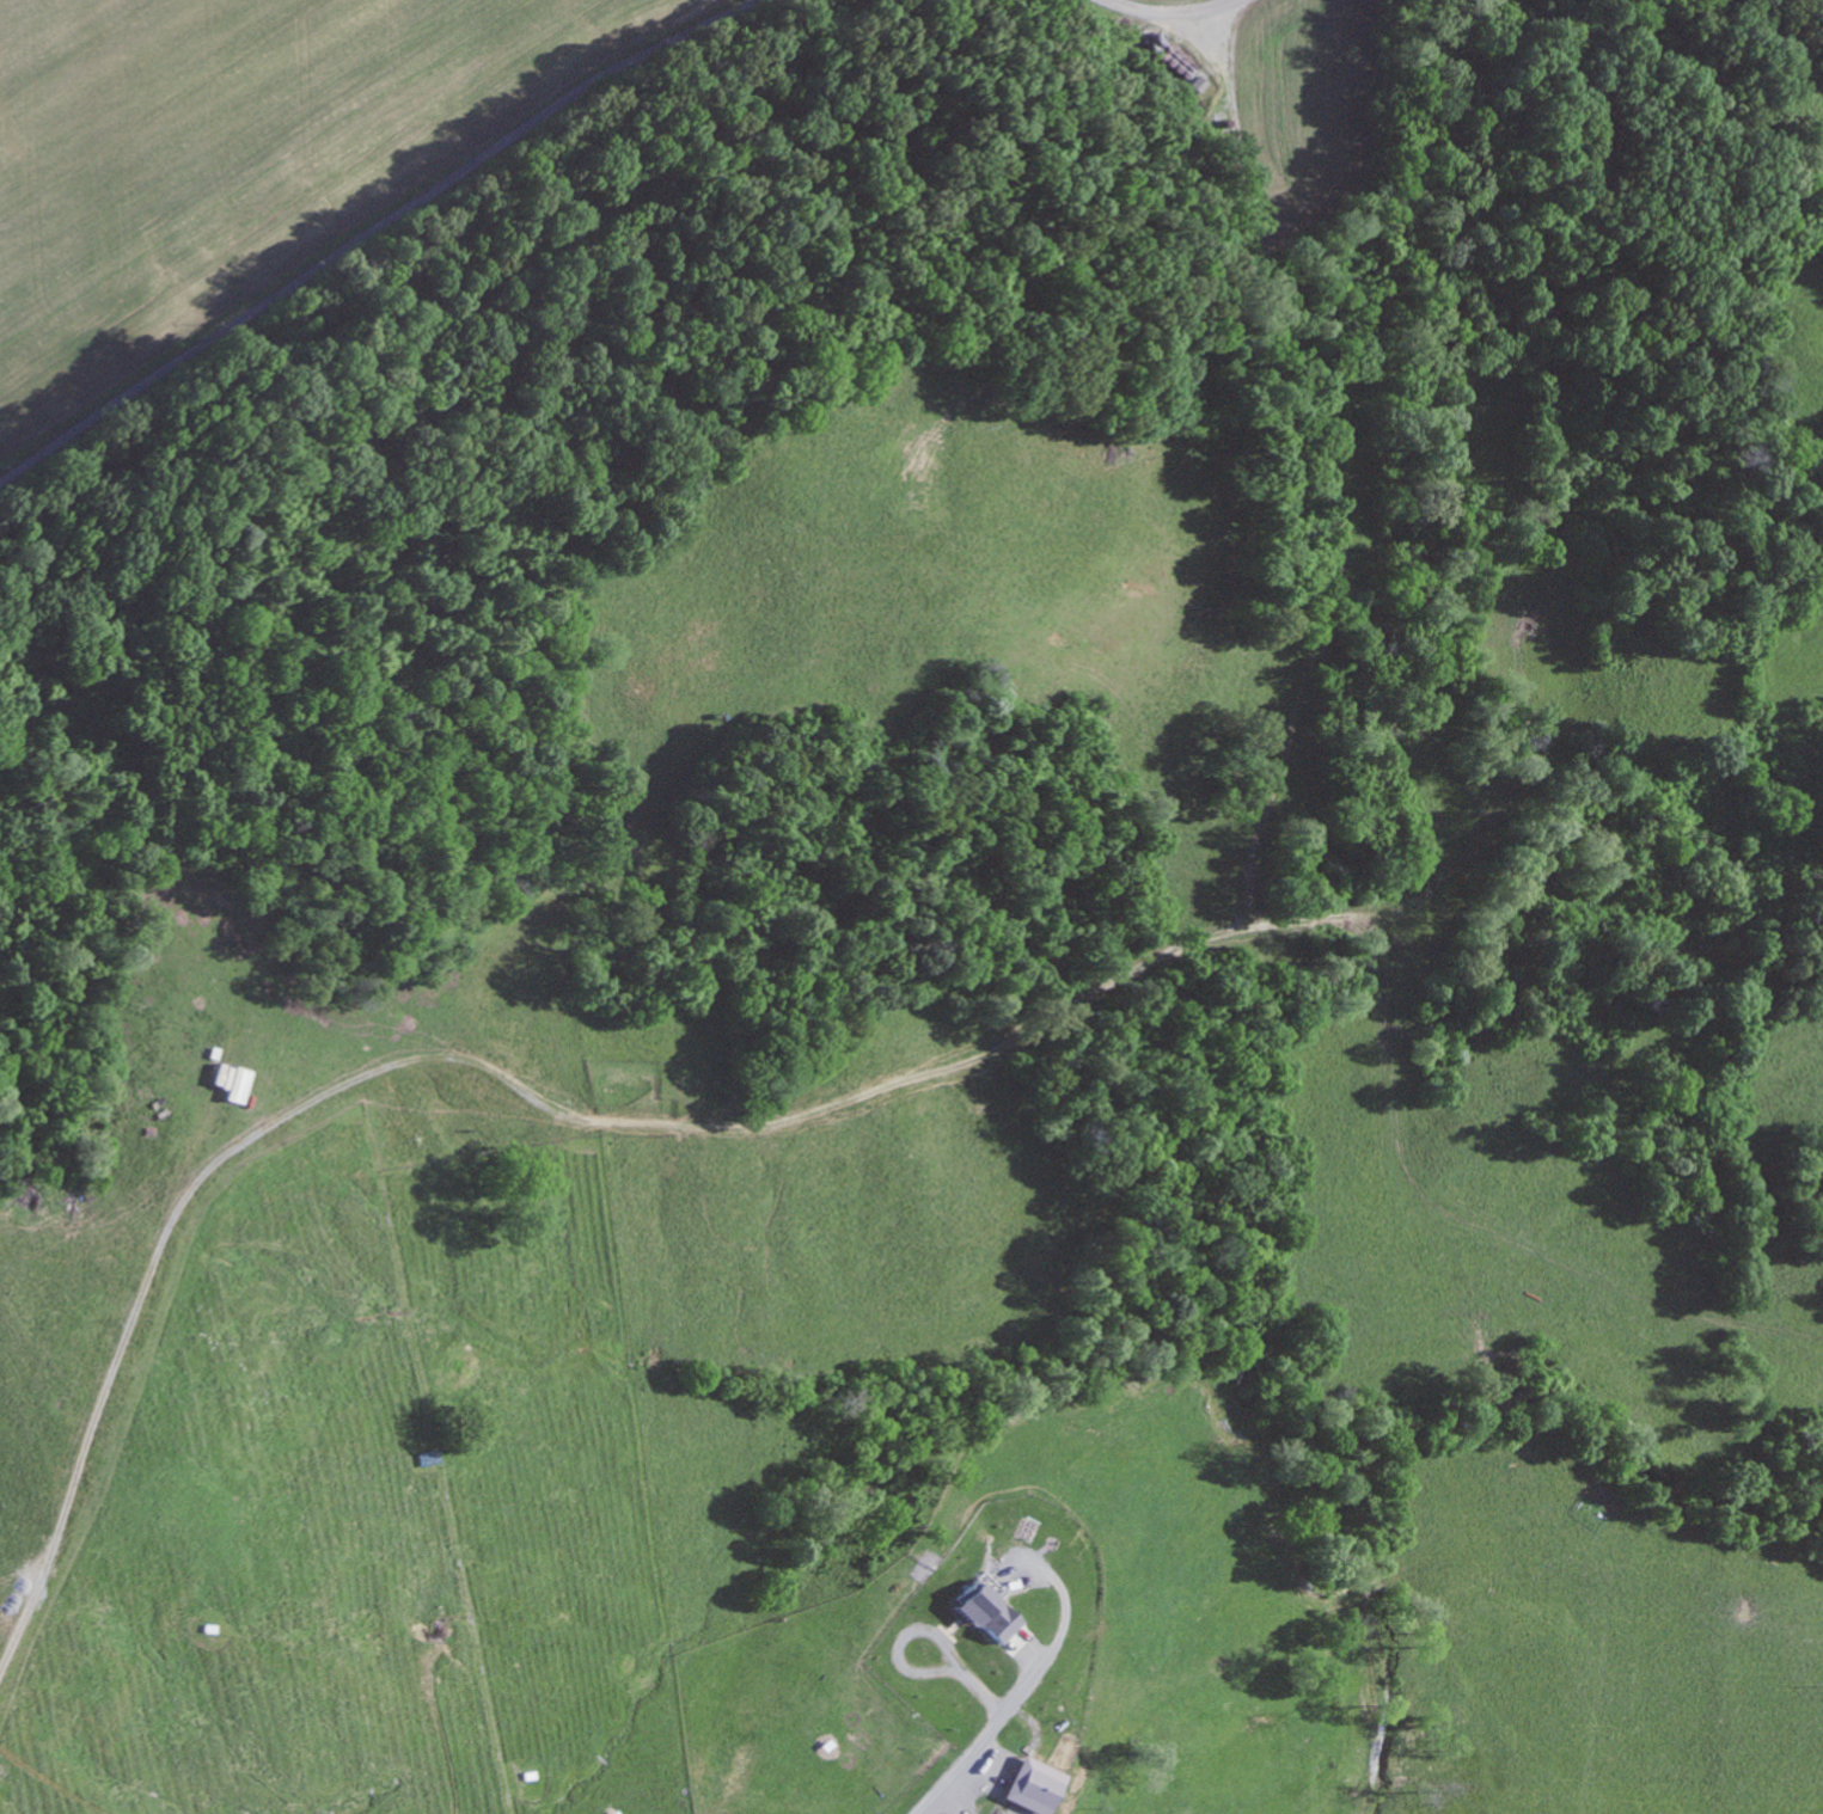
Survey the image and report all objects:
road: (1169, 10)
road: (374, 229)

